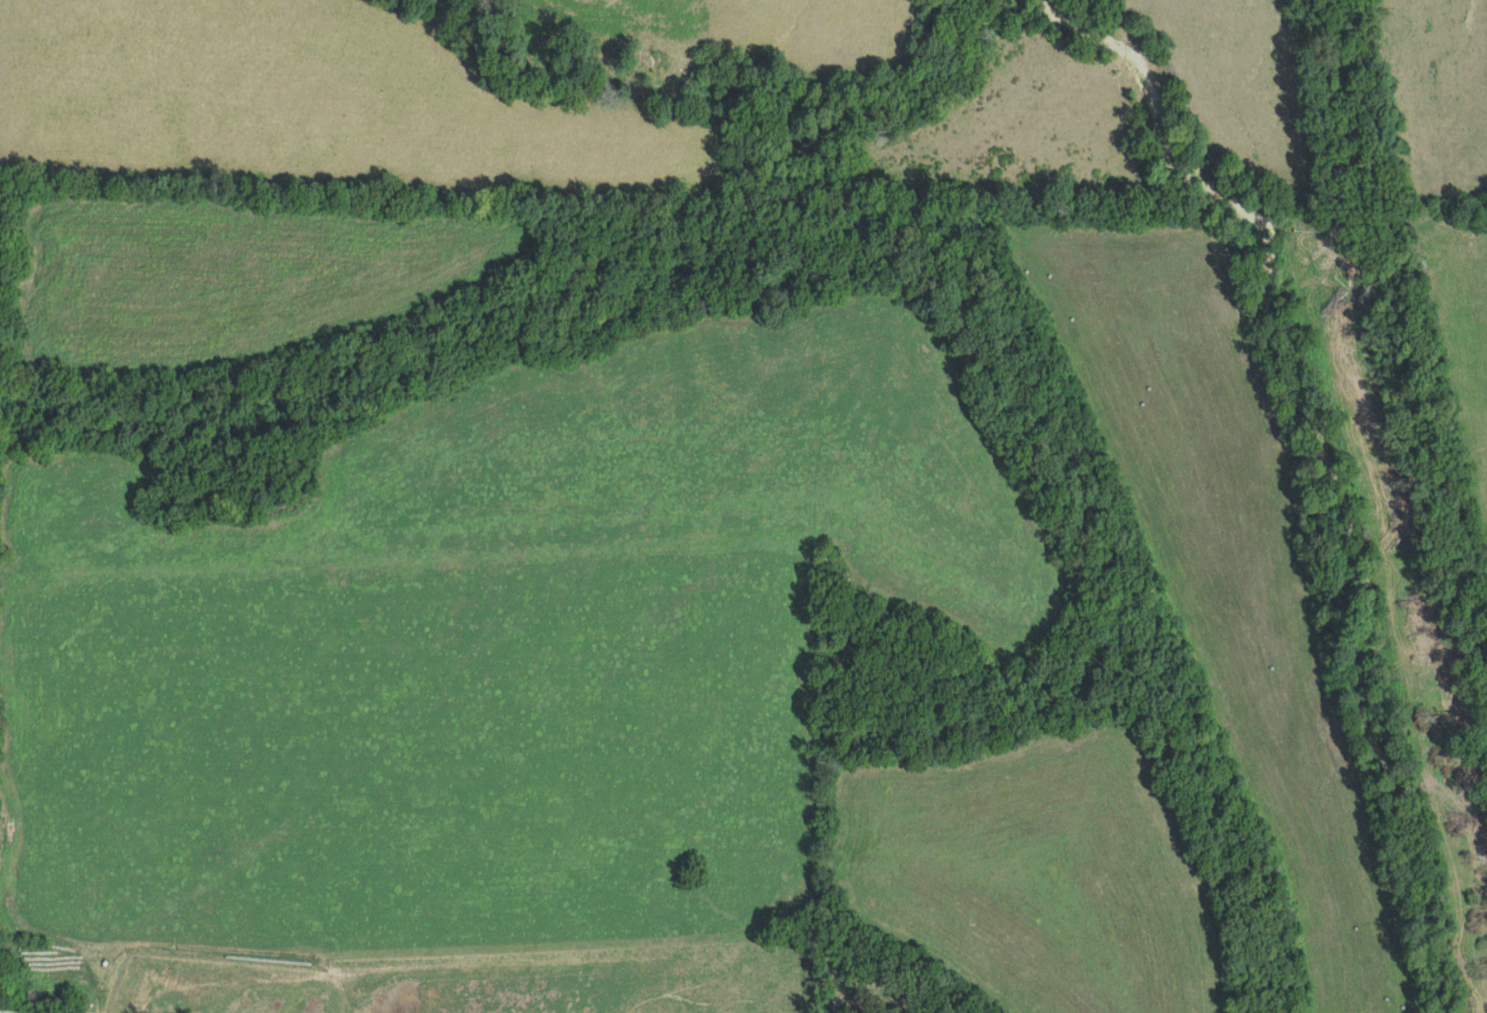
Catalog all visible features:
road: (13, 1009)

